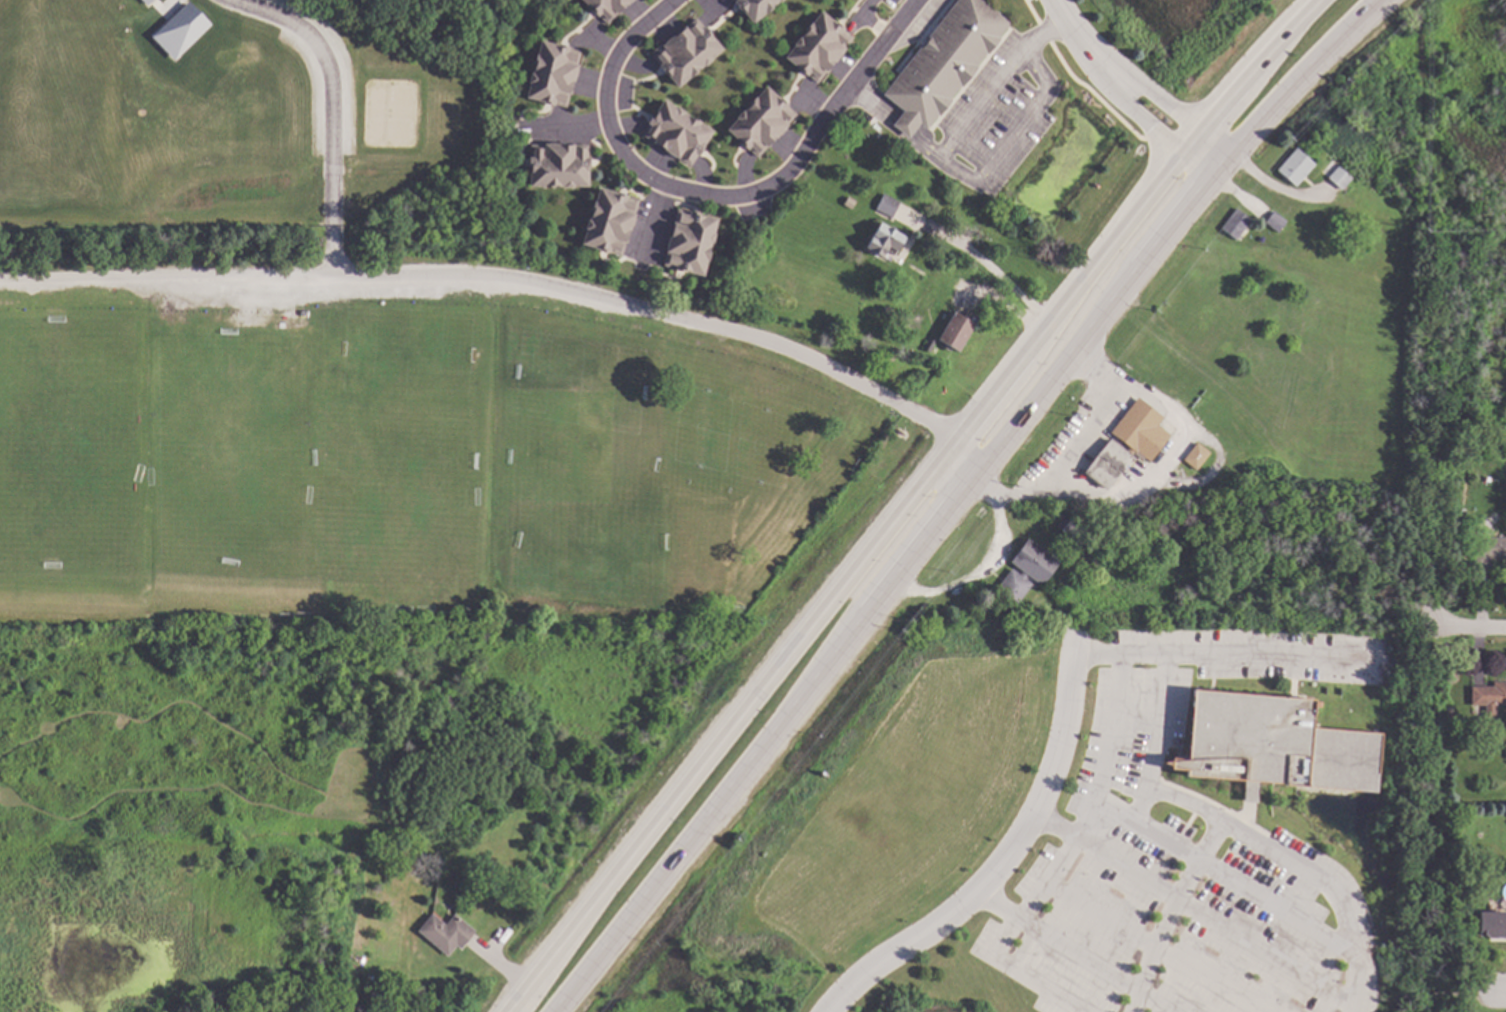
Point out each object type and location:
building: (146, 2)
building: (756, 7)
building: (607, 8)
building: (179, 31)
building: (819, 45)
building: (688, 52)
building: (945, 62)
building: (553, 73)
road: (1126, 90)
parking lot: (998, 112)
park: (390, 113)
building: (762, 120)
road: (895, 121)
building: (677, 130)
road: (969, 155)
building: (560, 164)
road: (945, 164)
building: (1297, 167)
building: (1347, 182)
road: (721, 192)
building: (850, 202)
building: (889, 205)
building: (609, 220)
building: (1277, 221)
building: (1238, 223)
building: (886, 239)
building: (690, 242)
road: (990, 260)
road: (332, 275)
road: (675, 318)
building: (958, 331)
building: (931, 345)
park: (179, 398)
building: (1142, 429)
road: (1081, 436)
park: (353, 442)
park: (68, 448)
building: (1197, 457)
building: (1110, 463)
road: (953, 498)
road: (907, 501)
building: (1077, 530)
building: (1489, 550)
road: (983, 564)
building: (1027, 572)
road: (1467, 630)
building: (1490, 697)
building: (1452, 718)
building: (1276, 744)
road: (1149, 792)
building: (471, 803)
road: (1078, 816)
building: (1502, 817)
road: (1023, 825)
road: (1050, 826)
road: (1171, 915)
building: (1493, 924)
building: (448, 932)
road: (1074, 955)
road: (1024, 972)
road: (1502, 993)
road: (1086, 1011)

